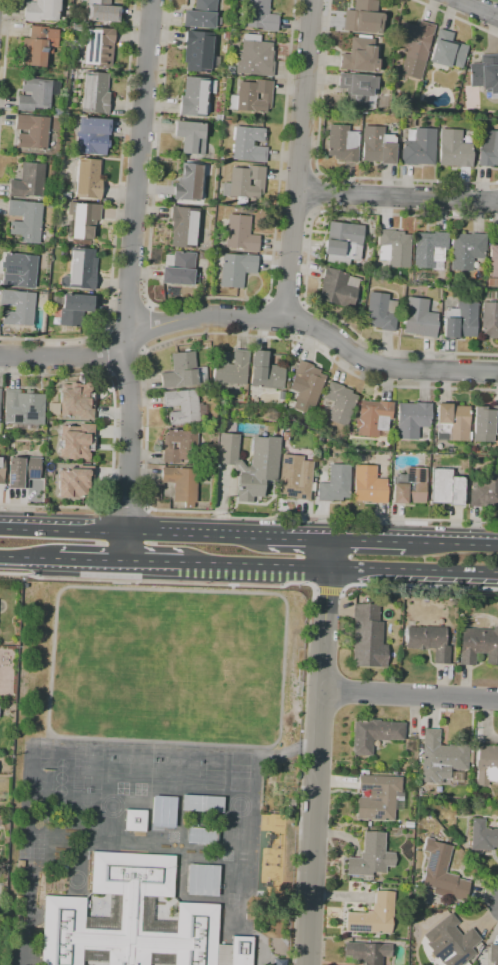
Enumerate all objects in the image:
road: (477, 8)
building: (41, 10)
building: (102, 10)
road: (4, 11)
building: (202, 15)
building: (260, 15)
building: (363, 17)
road: (454, 17)
building: (38, 45)
building: (98, 47)
building: (414, 47)
building: (447, 50)
building: (198, 51)
road: (4, 54)
building: (360, 55)
building: (255, 56)
road: (2, 61)
building: (230, 70)
building: (485, 73)
building: (359, 90)
building: (36, 93)
building: (95, 93)
building: (196, 96)
building: (252, 96)
building: (219, 117)
building: (32, 131)
building: (92, 136)
building: (191, 136)
building: (342, 143)
building: (248, 144)
building: (378, 145)
building: (419, 147)
building: (488, 148)
building: (454, 149)
road: (297, 159)
road: (138, 169)
road: (321, 173)
building: (87, 179)
building: (28, 181)
building: (188, 182)
building: (245, 184)
road: (396, 197)
building: (50, 205)
road: (116, 218)
building: (82, 220)
building: (25, 221)
building: (184, 227)
building: (240, 234)
building: (343, 242)
building: (395, 248)
building: (429, 250)
building: (466, 250)
building: (203, 256)
building: (494, 261)
building: (82, 268)
road: (307, 268)
building: (180, 269)
building: (236, 269)
building: (19, 270)
building: (338, 288)
road: (205, 298)
road: (285, 300)
building: (18, 307)
building: (73, 308)
building: (381, 312)
road: (269, 318)
building: (419, 318)
building: (489, 319)
building: (460, 320)
road: (306, 324)
road: (315, 328)
road: (110, 351)
road: (66, 357)
building: (230, 367)
building: (183, 371)
building: (266, 371)
building: (306, 386)
building: (0, 394)
building: (77, 402)
building: (340, 403)
building: (184, 407)
building: (23, 408)
building: (276, 410)
rooftop solar panel: (29, 414)
rooftop solar panel: (17, 418)
building: (374, 418)
building: (412, 419)
road: (146, 421)
building: (452, 422)
building: (485, 423)
building: (285, 435)
road: (130, 436)
road: (112, 439)
building: (78, 442)
building: (179, 446)
building: (251, 463)
building: (1, 469)
building: (22, 472)
rooftop solar panel: (32, 475)
building: (295, 477)
rooftop solar panel: (8, 478)
building: (71, 483)
building: (335, 483)
building: (182, 484)
building: (369, 485)
building: (409, 486)
building: (447, 487)
building: (485, 489)
road: (126, 509)
road: (63, 530)
road: (196, 535)
road: (298, 539)
road: (366, 540)
road: (451, 543)
road: (126, 546)
road: (29, 556)
road: (92, 558)
road: (153, 560)
road: (255, 563)
road: (413, 568)
road: (415, 586)
road: (326, 590)
road: (309, 618)
building: (366, 637)
building: (429, 641)
building: (479, 645)
road: (51, 646)
road: (410, 698)
building: (374, 734)
road: (319, 752)
building: (439, 759)
building: (486, 763)
building: (378, 797)
building: (207, 805)
building: (138, 822)
building: (204, 836)
building: (483, 837)
building: (370, 857)
rooftop solar panel: (431, 861)
building: (441, 873)
building: (207, 881)
building: (371, 917)
building: (134, 920)
rooftop solar panel: (359, 930)
building: (450, 942)
building: (244, 950)
building: (367, 951)
rooftop solar panel: (442, 952)
building: (493, 954)
rooftop solar panel: (457, 962)

